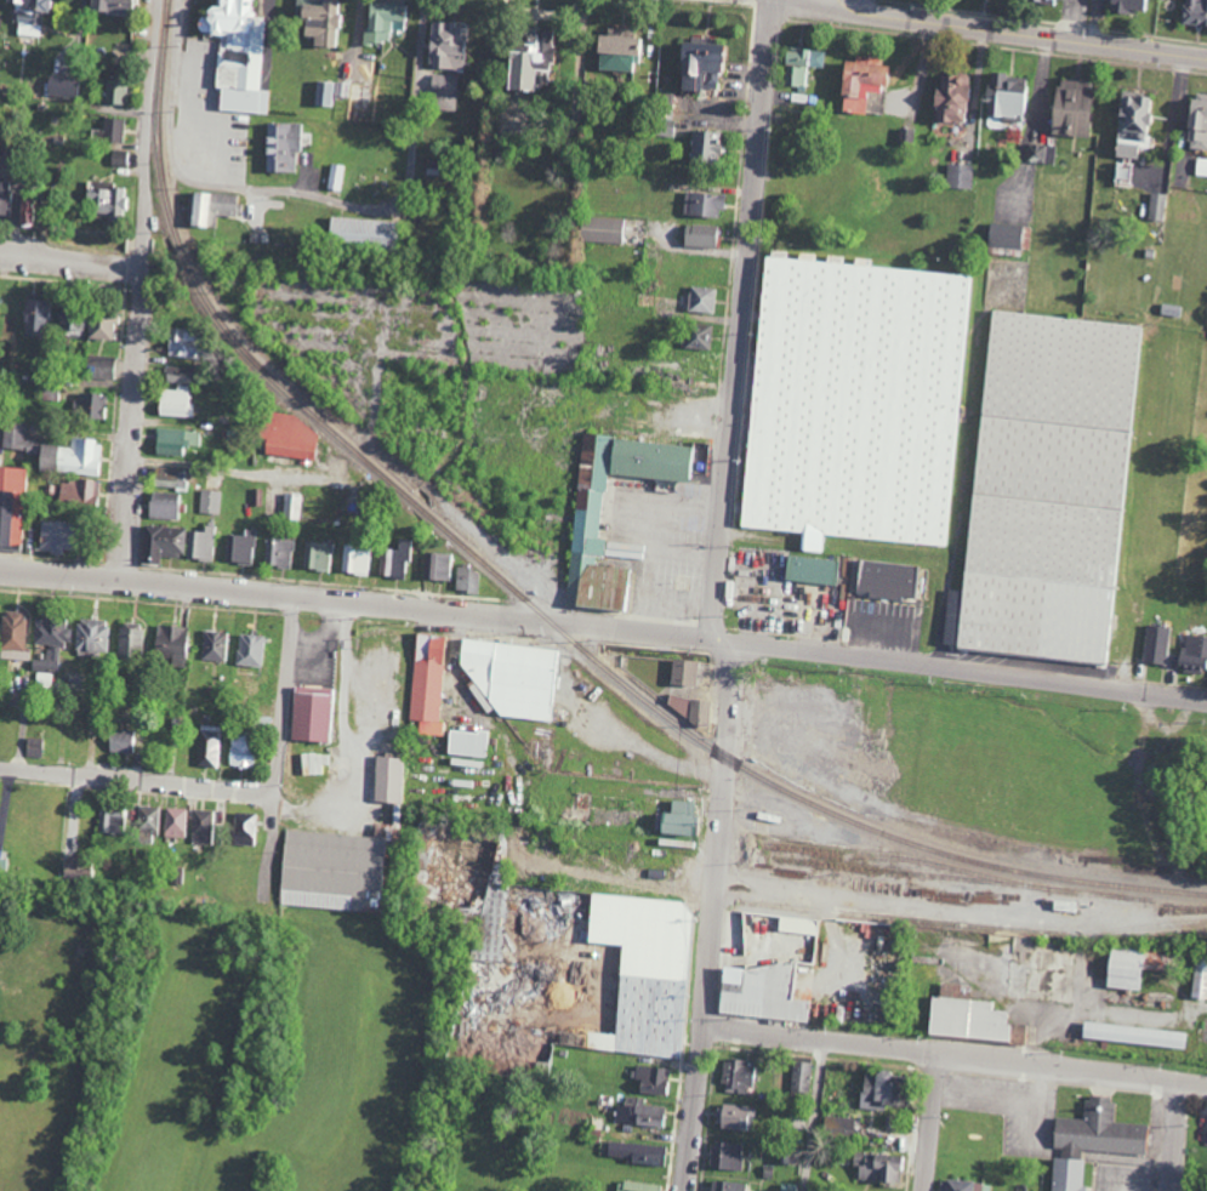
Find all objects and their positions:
building: (109, 6)
building: (1194, 12)
building: (27, 17)
building: (381, 19)
building: (314, 23)
road: (1019, 34)
building: (445, 45)
building: (613, 50)
building: (234, 56)
building: (523, 61)
building: (696, 65)
building: (798, 65)
building: (59, 86)
building: (861, 86)
building: (114, 92)
building: (328, 92)
building: (443, 92)
building: (947, 97)
building: (1006, 98)
building: (1069, 107)
road: (1173, 112)
building: (1196, 121)
building: (1128, 126)
building: (112, 130)
building: (702, 147)
building: (279, 148)
building: (1040, 153)
building: (118, 159)
building: (1201, 167)
building: (1123, 173)
building: (957, 176)
building: (335, 177)
road: (302, 193)
building: (1, 198)
building: (104, 203)
building: (701, 205)
building: (1155, 206)
building: (207, 207)
building: (24, 209)
building: (600, 230)
building: (358, 233)
building: (698, 235)
building: (1002, 235)
road: (70, 257)
road: (142, 290)
building: (695, 300)
building: (33, 318)
road: (739, 318)
building: (68, 325)
building: (98, 325)
building: (695, 337)
building: (181, 343)
building: (98, 367)
building: (176, 375)
building: (858, 399)
building: (176, 403)
building: (90, 406)
building: (287, 438)
building: (173, 441)
building: (55, 452)
building: (648, 456)
road: (238, 471)
building: (167, 478)
building: (1051, 489)
building: (76, 492)
building: (210, 502)
building: (163, 506)
building: (10, 507)
building: (290, 507)
building: (52, 537)
building: (160, 543)
building: (199, 545)
building: (240, 548)
building: (278, 553)
building: (317, 555)
building: (394, 560)
building: (355, 562)
building: (434, 566)
building: (809, 570)
building: (466, 580)
building: (884, 580)
railway: (530, 603)
road: (604, 627)
building: (51, 631)
building: (13, 636)
building: (91, 636)
building: (129, 638)
building: (171, 643)
building: (213, 645)
building: (1155, 645)
building: (249, 649)
building: (1192, 653)
building: (47, 661)
building: (681, 671)
building: (512, 678)
building: (426, 683)
road: (287, 695)
road: (342, 695)
building: (479, 699)
building: (690, 708)
building: (309, 713)
building: (121, 740)
building: (466, 742)
building: (206, 746)
building: (34, 747)
building: (240, 751)
building: (311, 763)
building: (386, 779)
road: (138, 781)
building: (110, 816)
building: (676, 817)
building: (148, 819)
building: (176, 822)
building: (203, 826)
building: (244, 828)
road: (275, 828)
railway: (929, 864)
building: (74, 865)
building: (331, 870)
railway: (979, 882)
road: (640, 888)
railway: (1158, 895)
road: (713, 916)
building: (489, 921)
building: (796, 924)
railway: (1019, 930)
building: (1128, 965)
building: (642, 971)
building: (1199, 978)
building: (758, 992)
building: (964, 1015)
building: (1131, 1033)
road: (955, 1055)
building: (801, 1075)
building: (735, 1076)
building: (650, 1079)
building: (877, 1089)
building: (637, 1112)
road: (814, 1115)
building: (735, 1117)
road: (934, 1122)
building: (838, 1126)
building: (1097, 1130)
road: (1177, 1135)
building: (634, 1152)
building: (787, 1153)
building: (724, 1155)
building: (878, 1167)
building: (1065, 1174)
building: (964, 1185)
building: (634, 1186)
building: (725, 1186)

